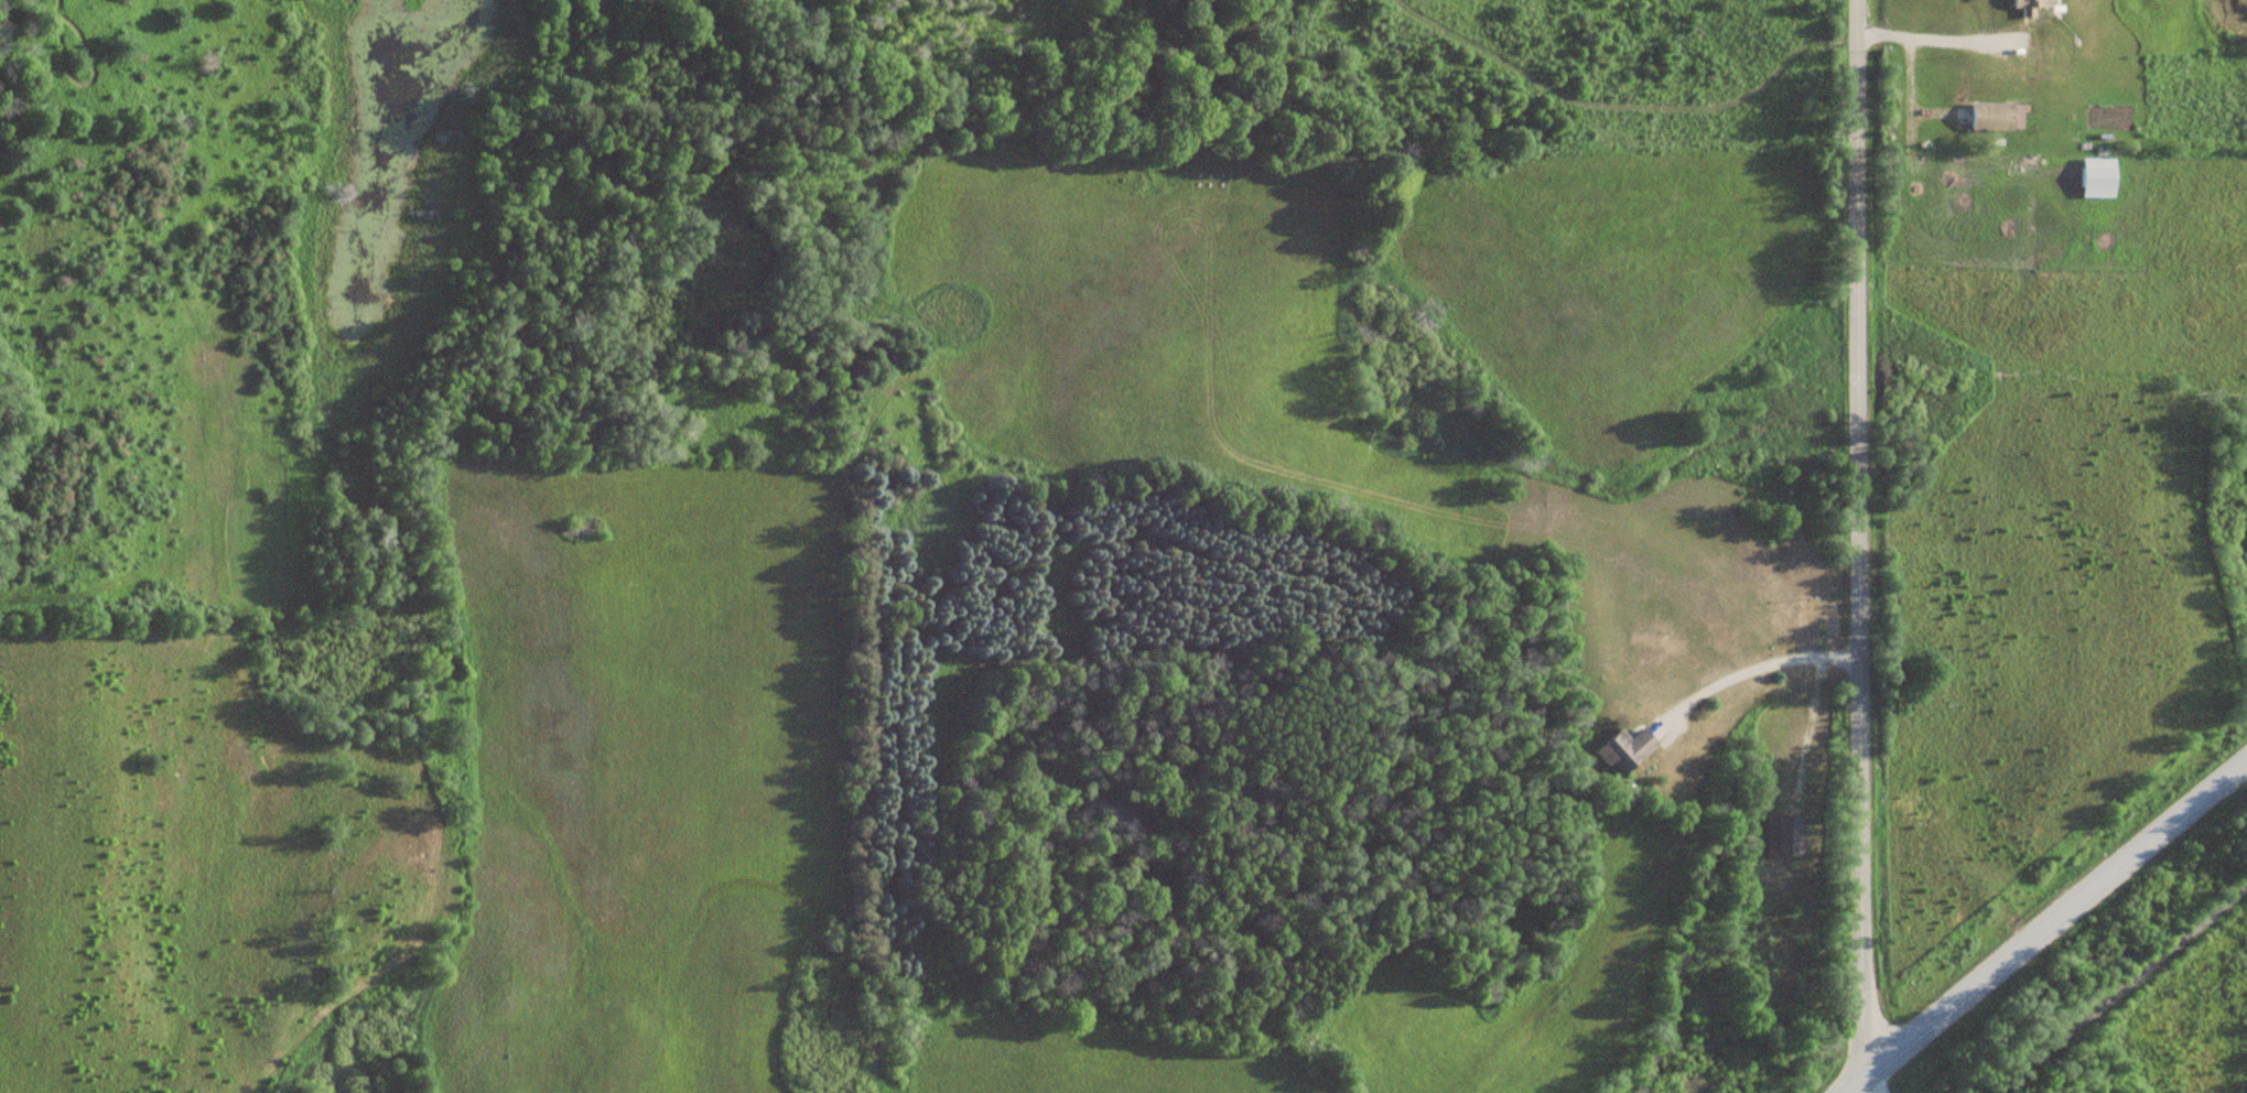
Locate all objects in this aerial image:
building: (2031, 7)
building: (1995, 117)
building: (2102, 177)
road: (1861, 541)
building: (1625, 750)
building: (1785, 835)
road: (2049, 924)
road: (2125, 992)

